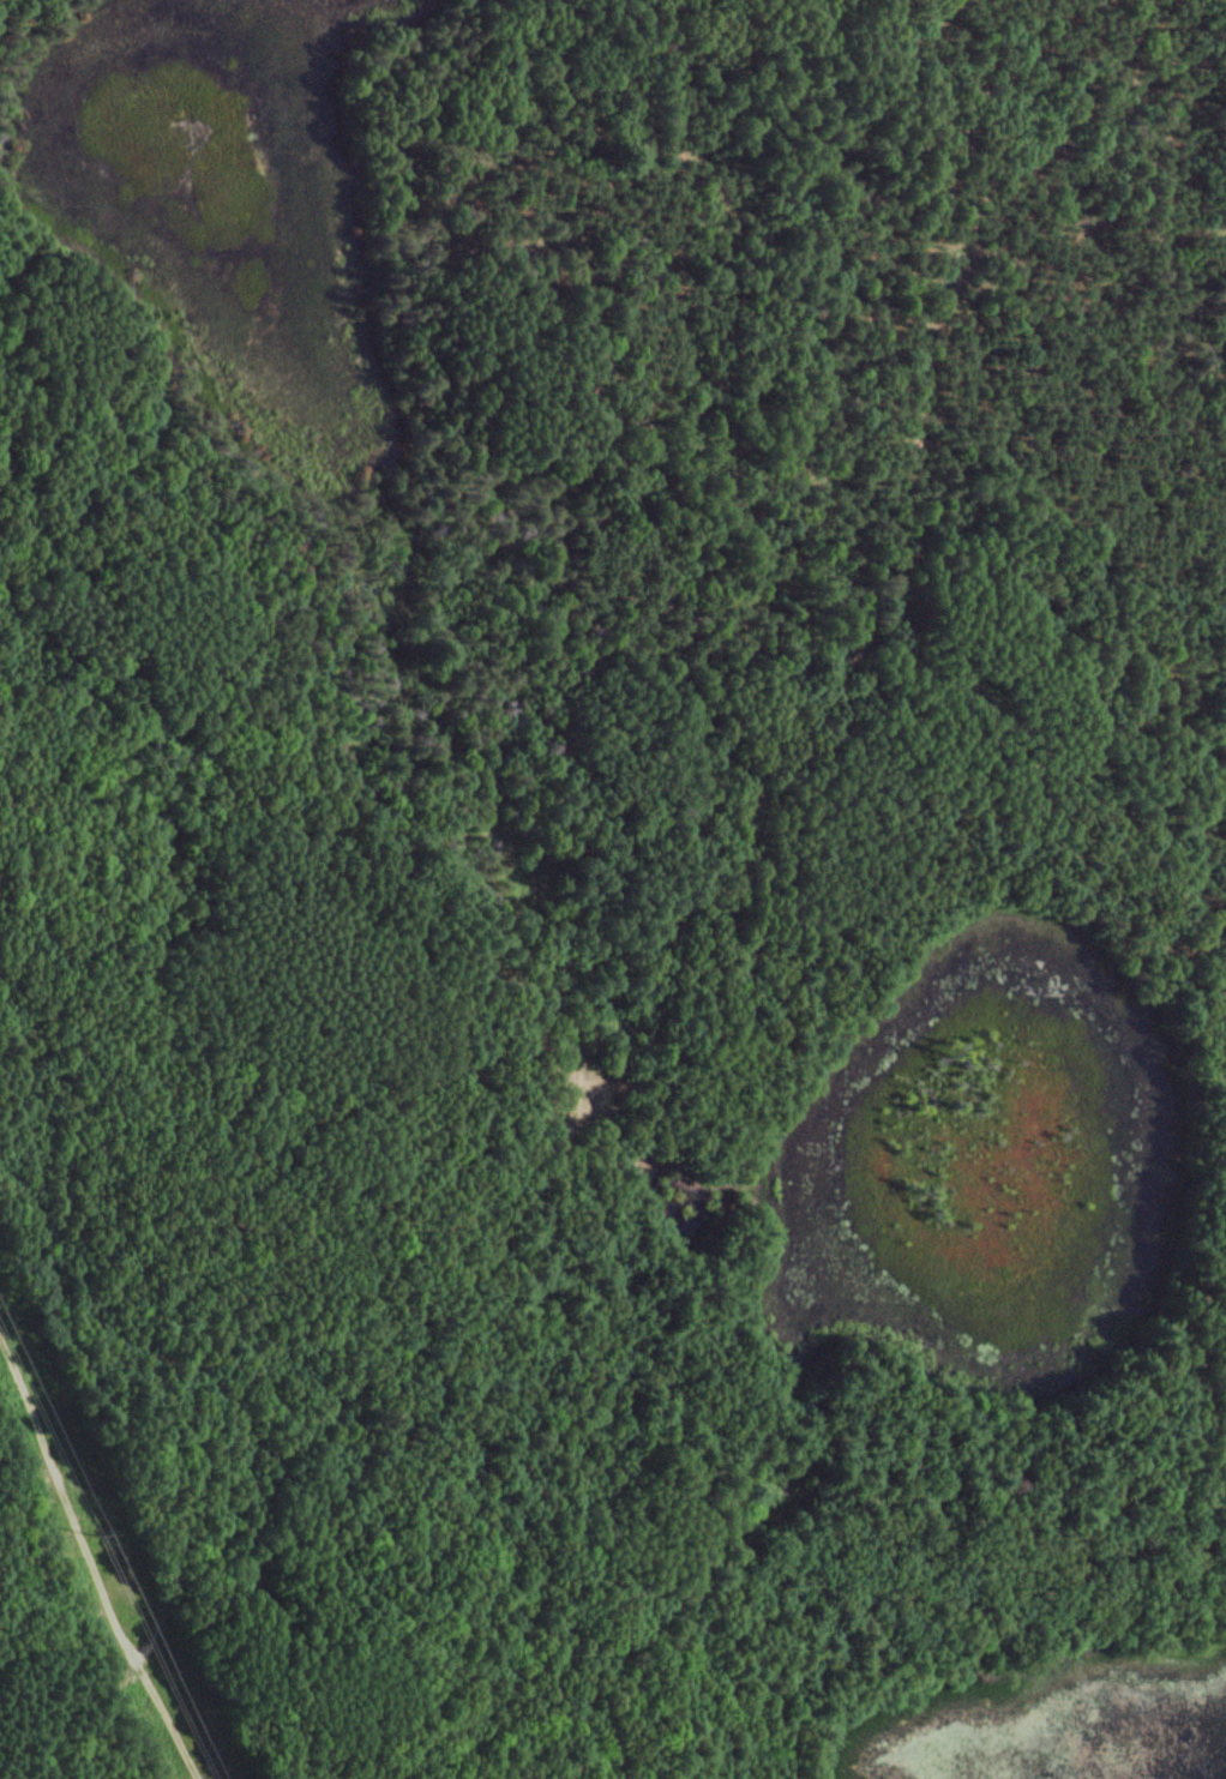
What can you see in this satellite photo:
road: (281, 829)
road: (673, 936)
road: (669, 1474)
road: (61, 1502)
road: (166, 1720)

